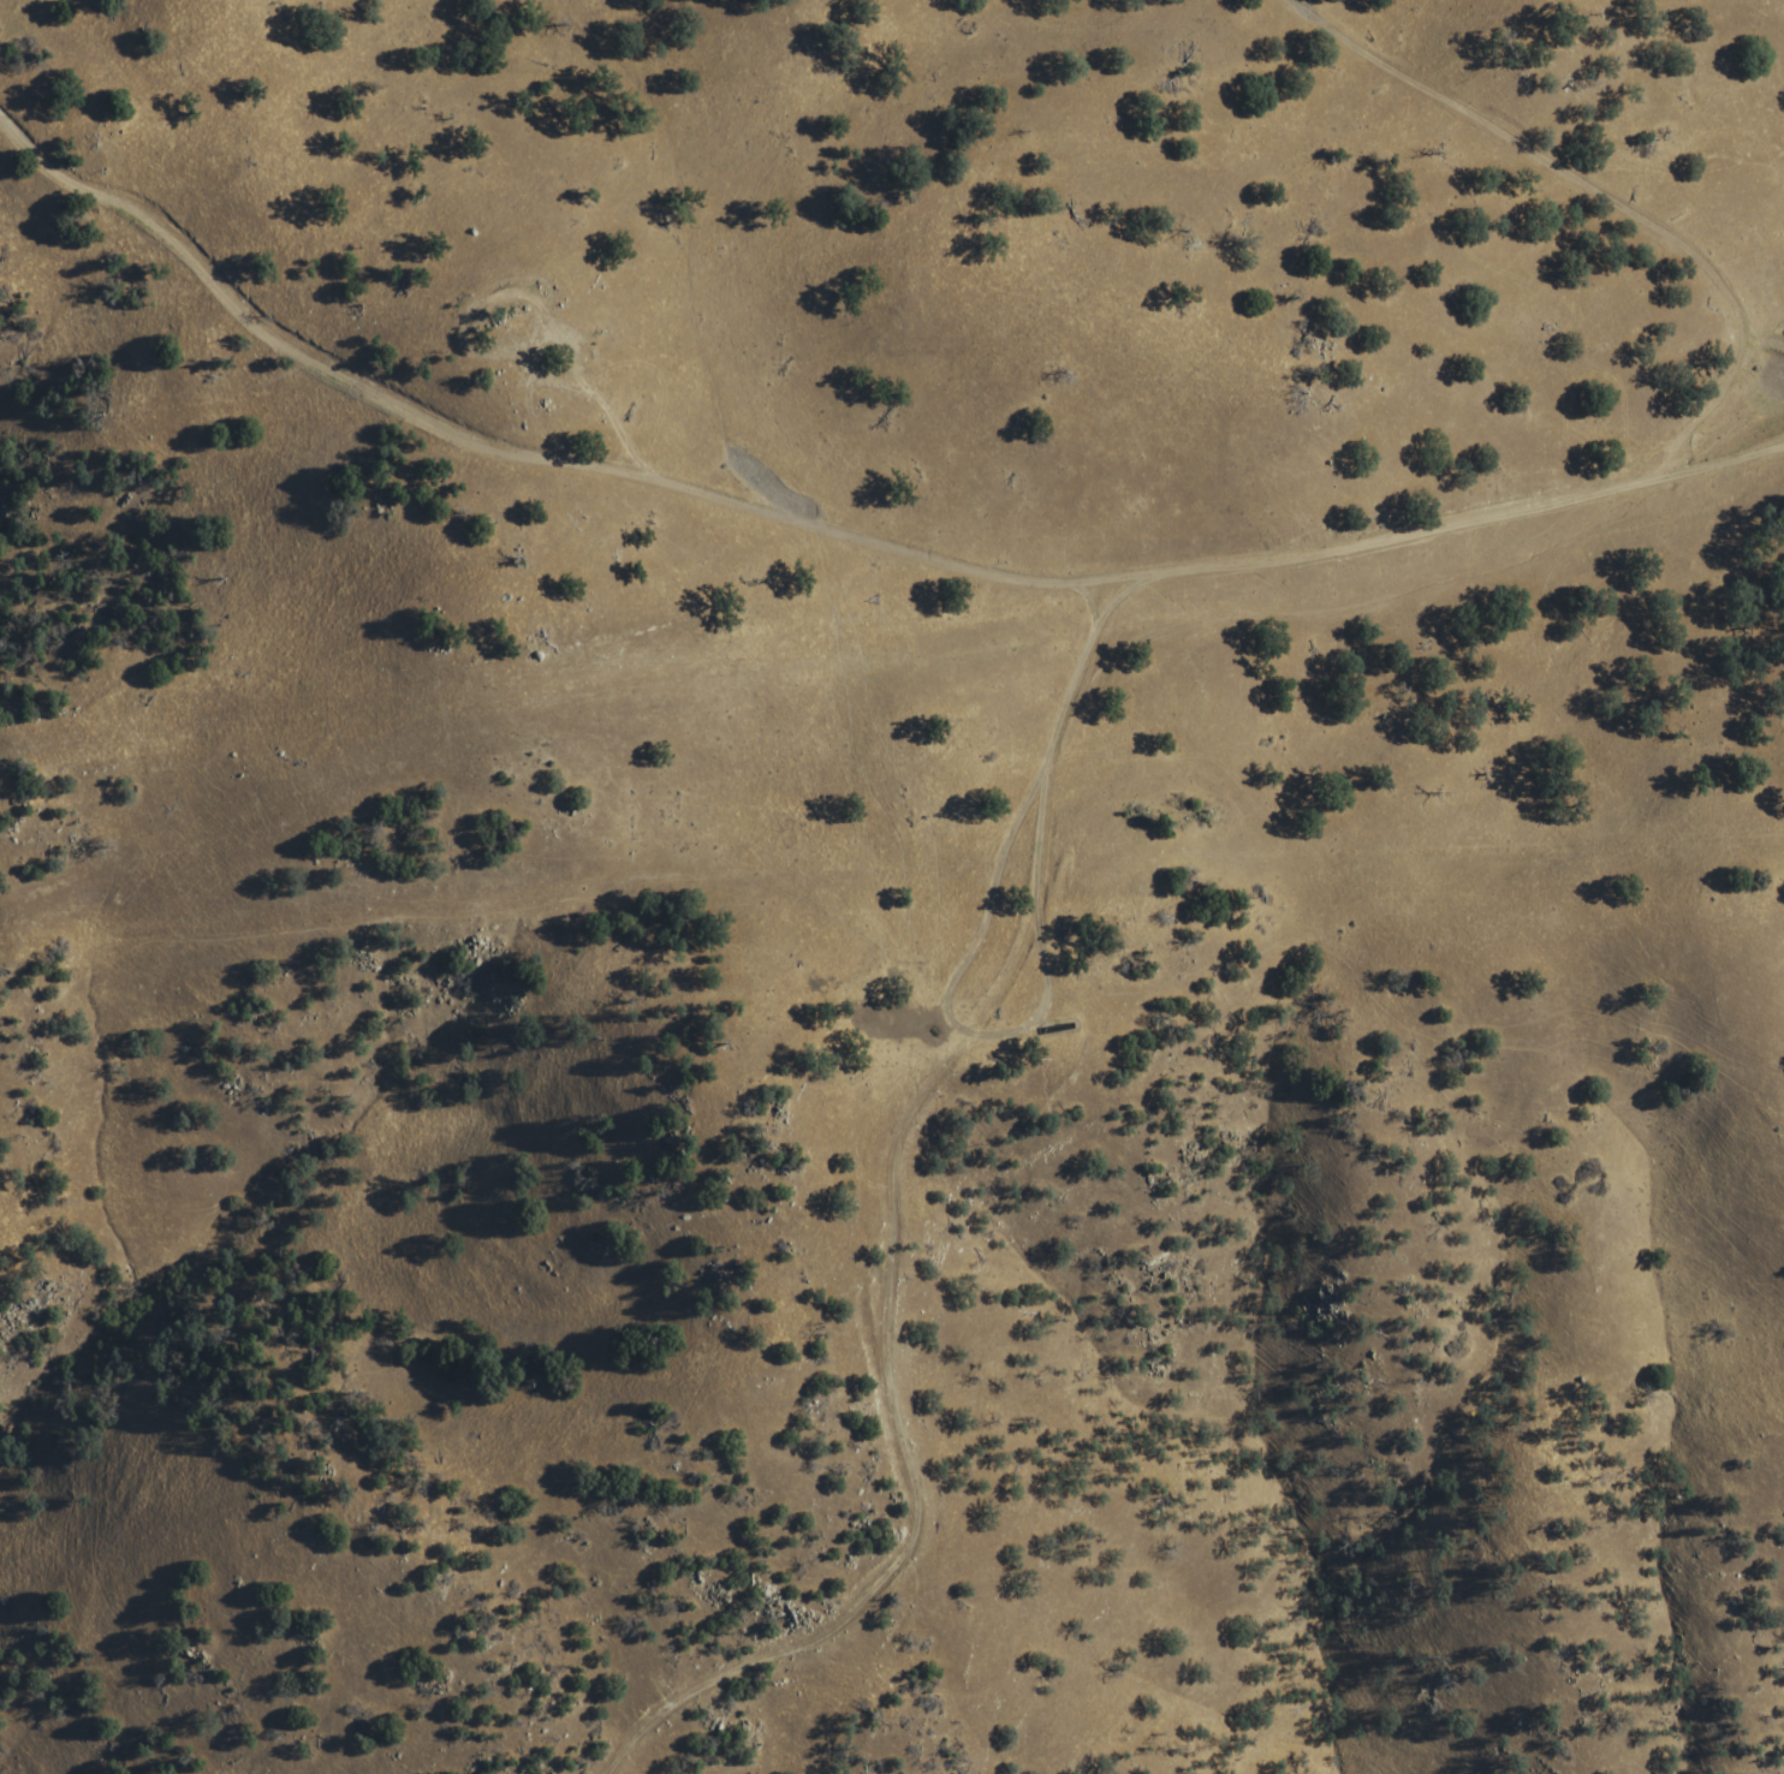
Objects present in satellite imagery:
road: (1461, 190)
road: (843, 550)
road: (869, 1236)

